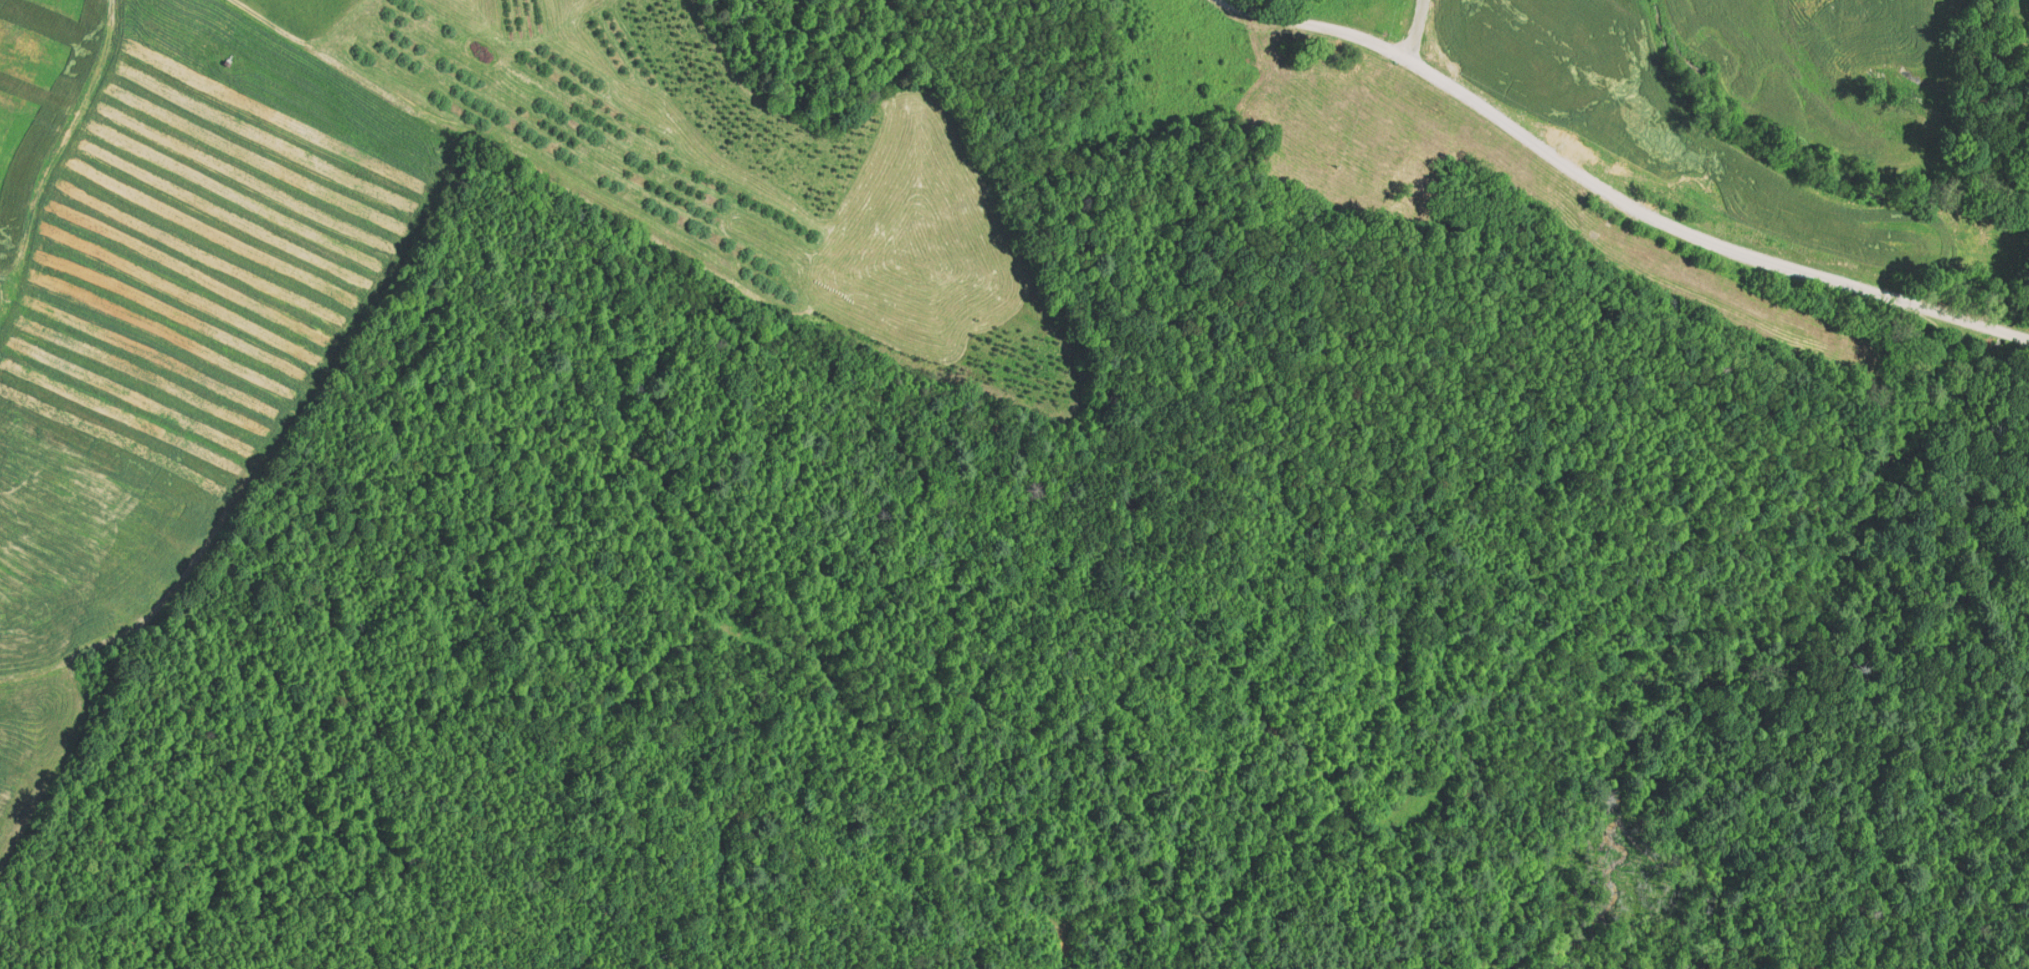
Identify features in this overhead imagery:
road: (1418, 28)
road: (102, 70)
road: (1629, 205)

